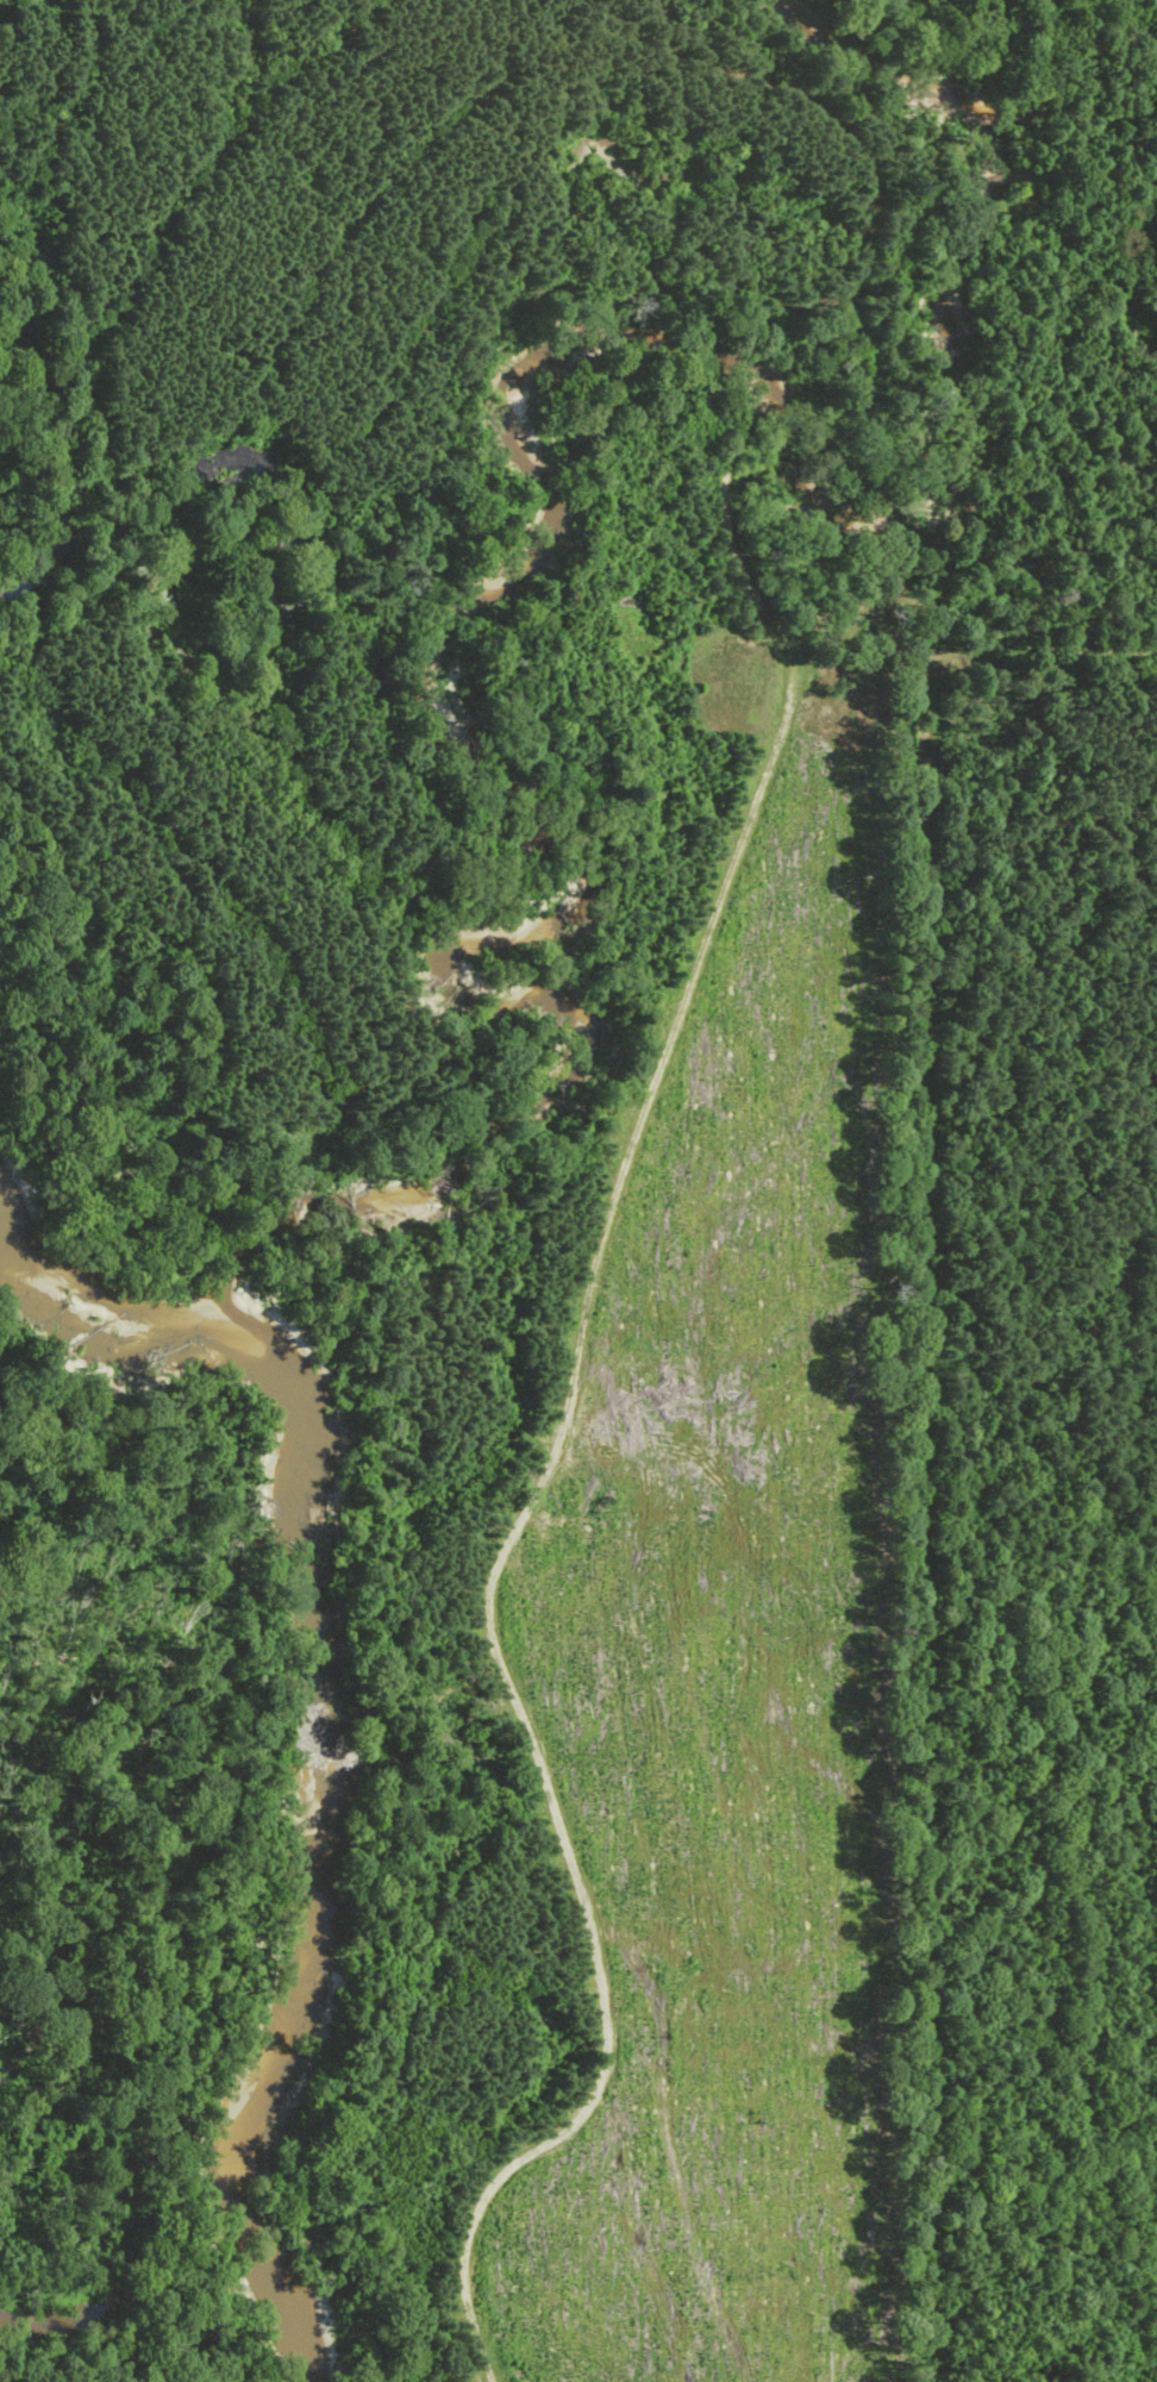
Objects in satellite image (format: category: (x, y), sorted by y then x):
river: (309, 1725)

